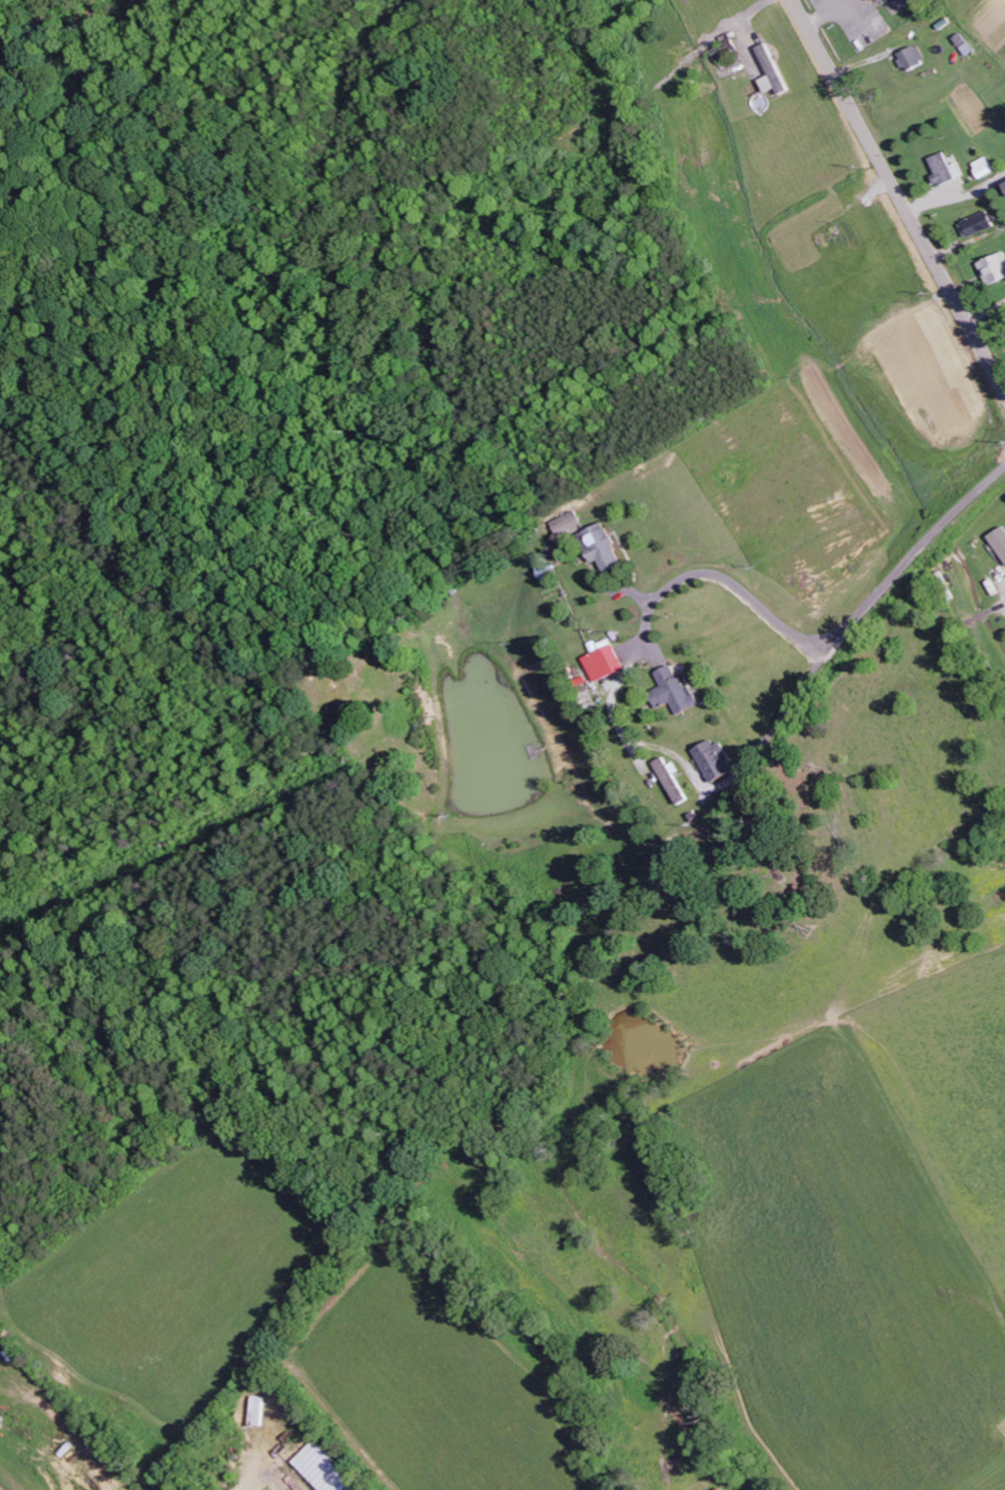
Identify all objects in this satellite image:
building: (882, 1)
building: (966, 45)
building: (726, 50)
building: (914, 59)
building: (773, 73)
building: (985, 167)
building: (946, 169)
road: (898, 196)
building: (978, 224)
building: (995, 268)
building: (571, 523)
building: (1000, 540)
building: (605, 547)
building: (609, 663)
building: (675, 690)
building: (718, 760)
building: (676, 781)
building: (323, 1470)
building: (724, 1488)

